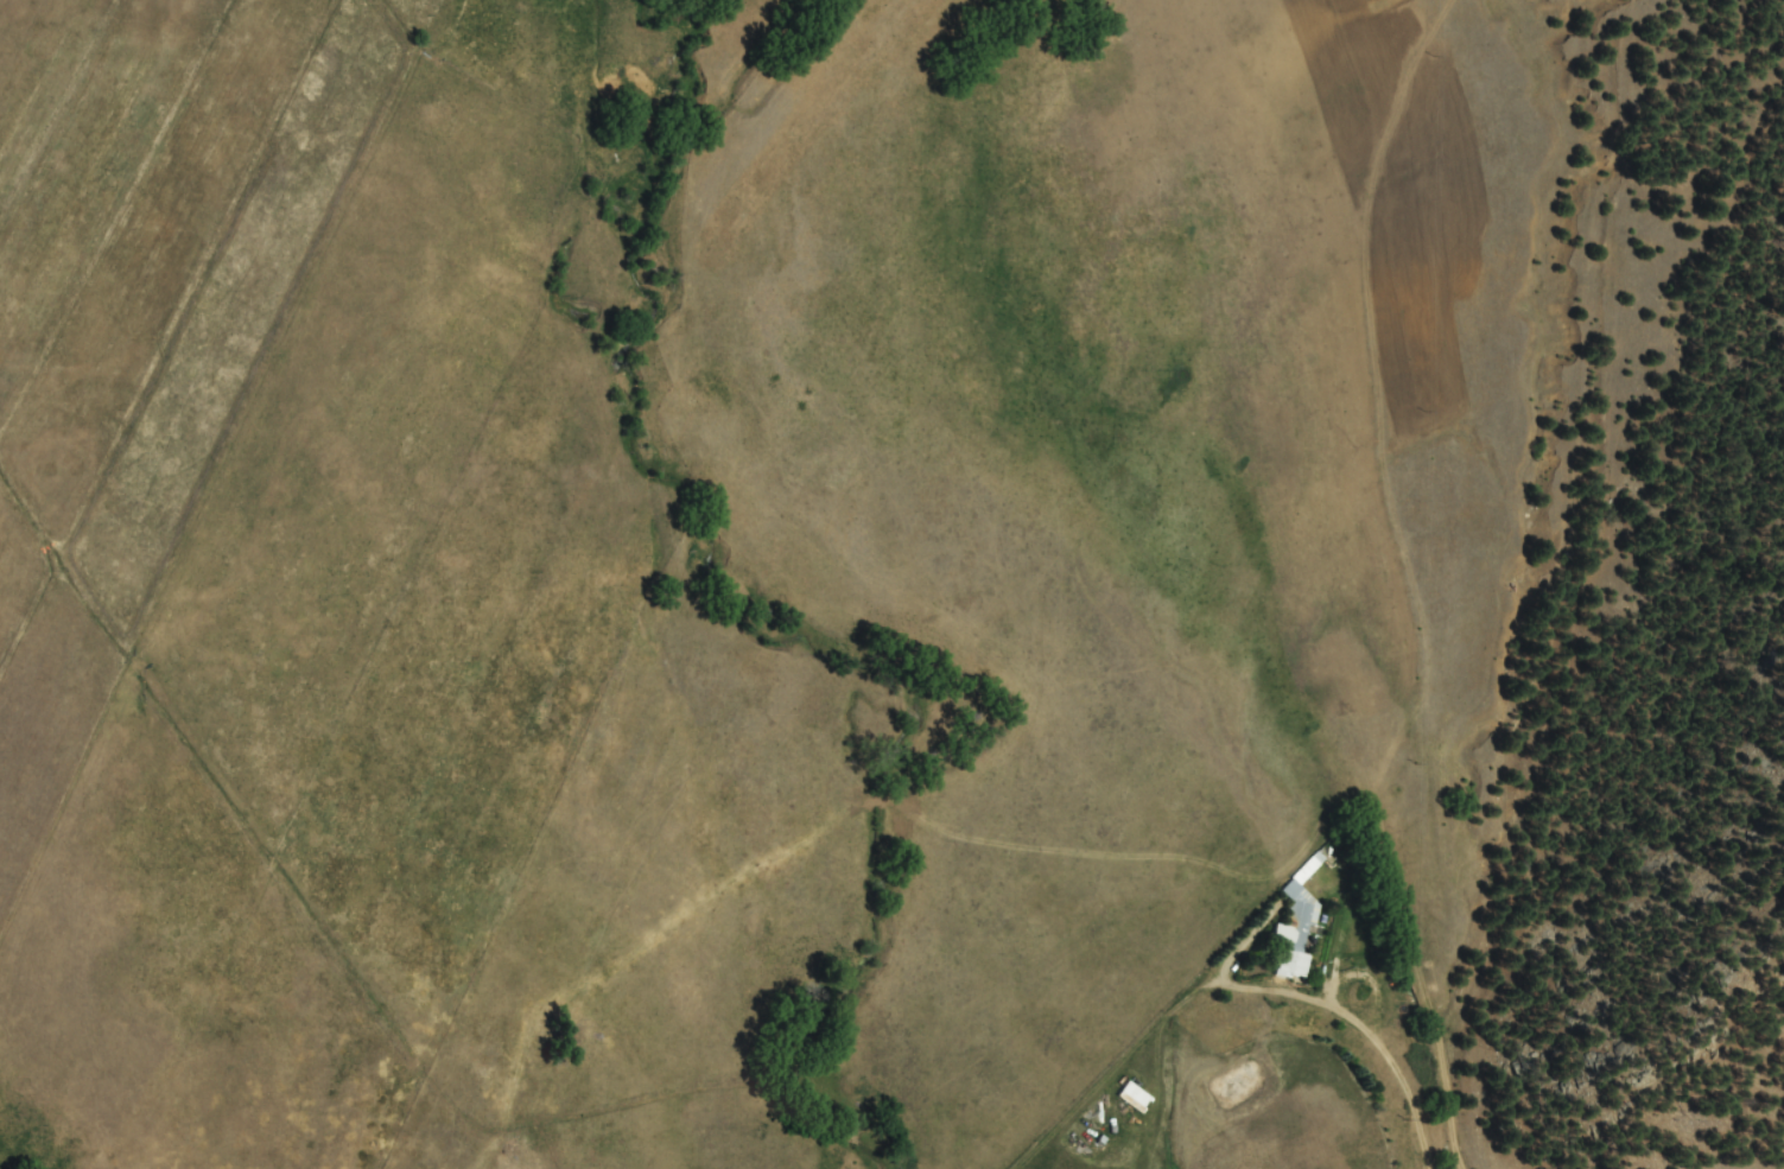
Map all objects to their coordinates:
building: (1290, 935)

